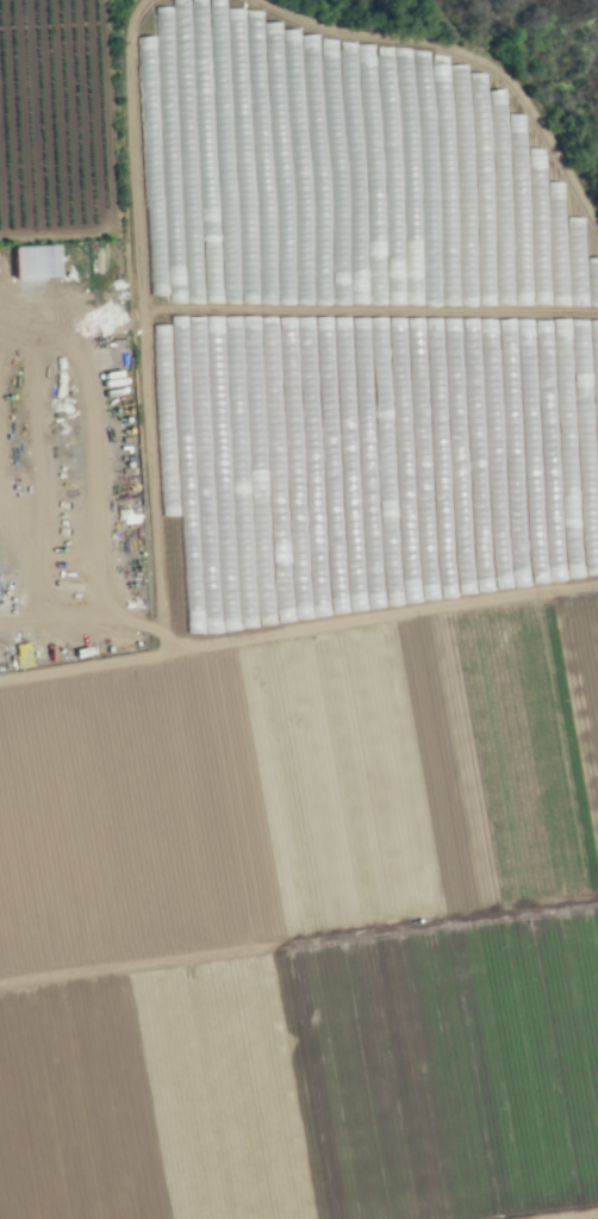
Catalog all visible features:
road: (99, 464)
crop: (299, 609)
building: (255, 614)
building: (175, 617)
road: (569, 1214)

